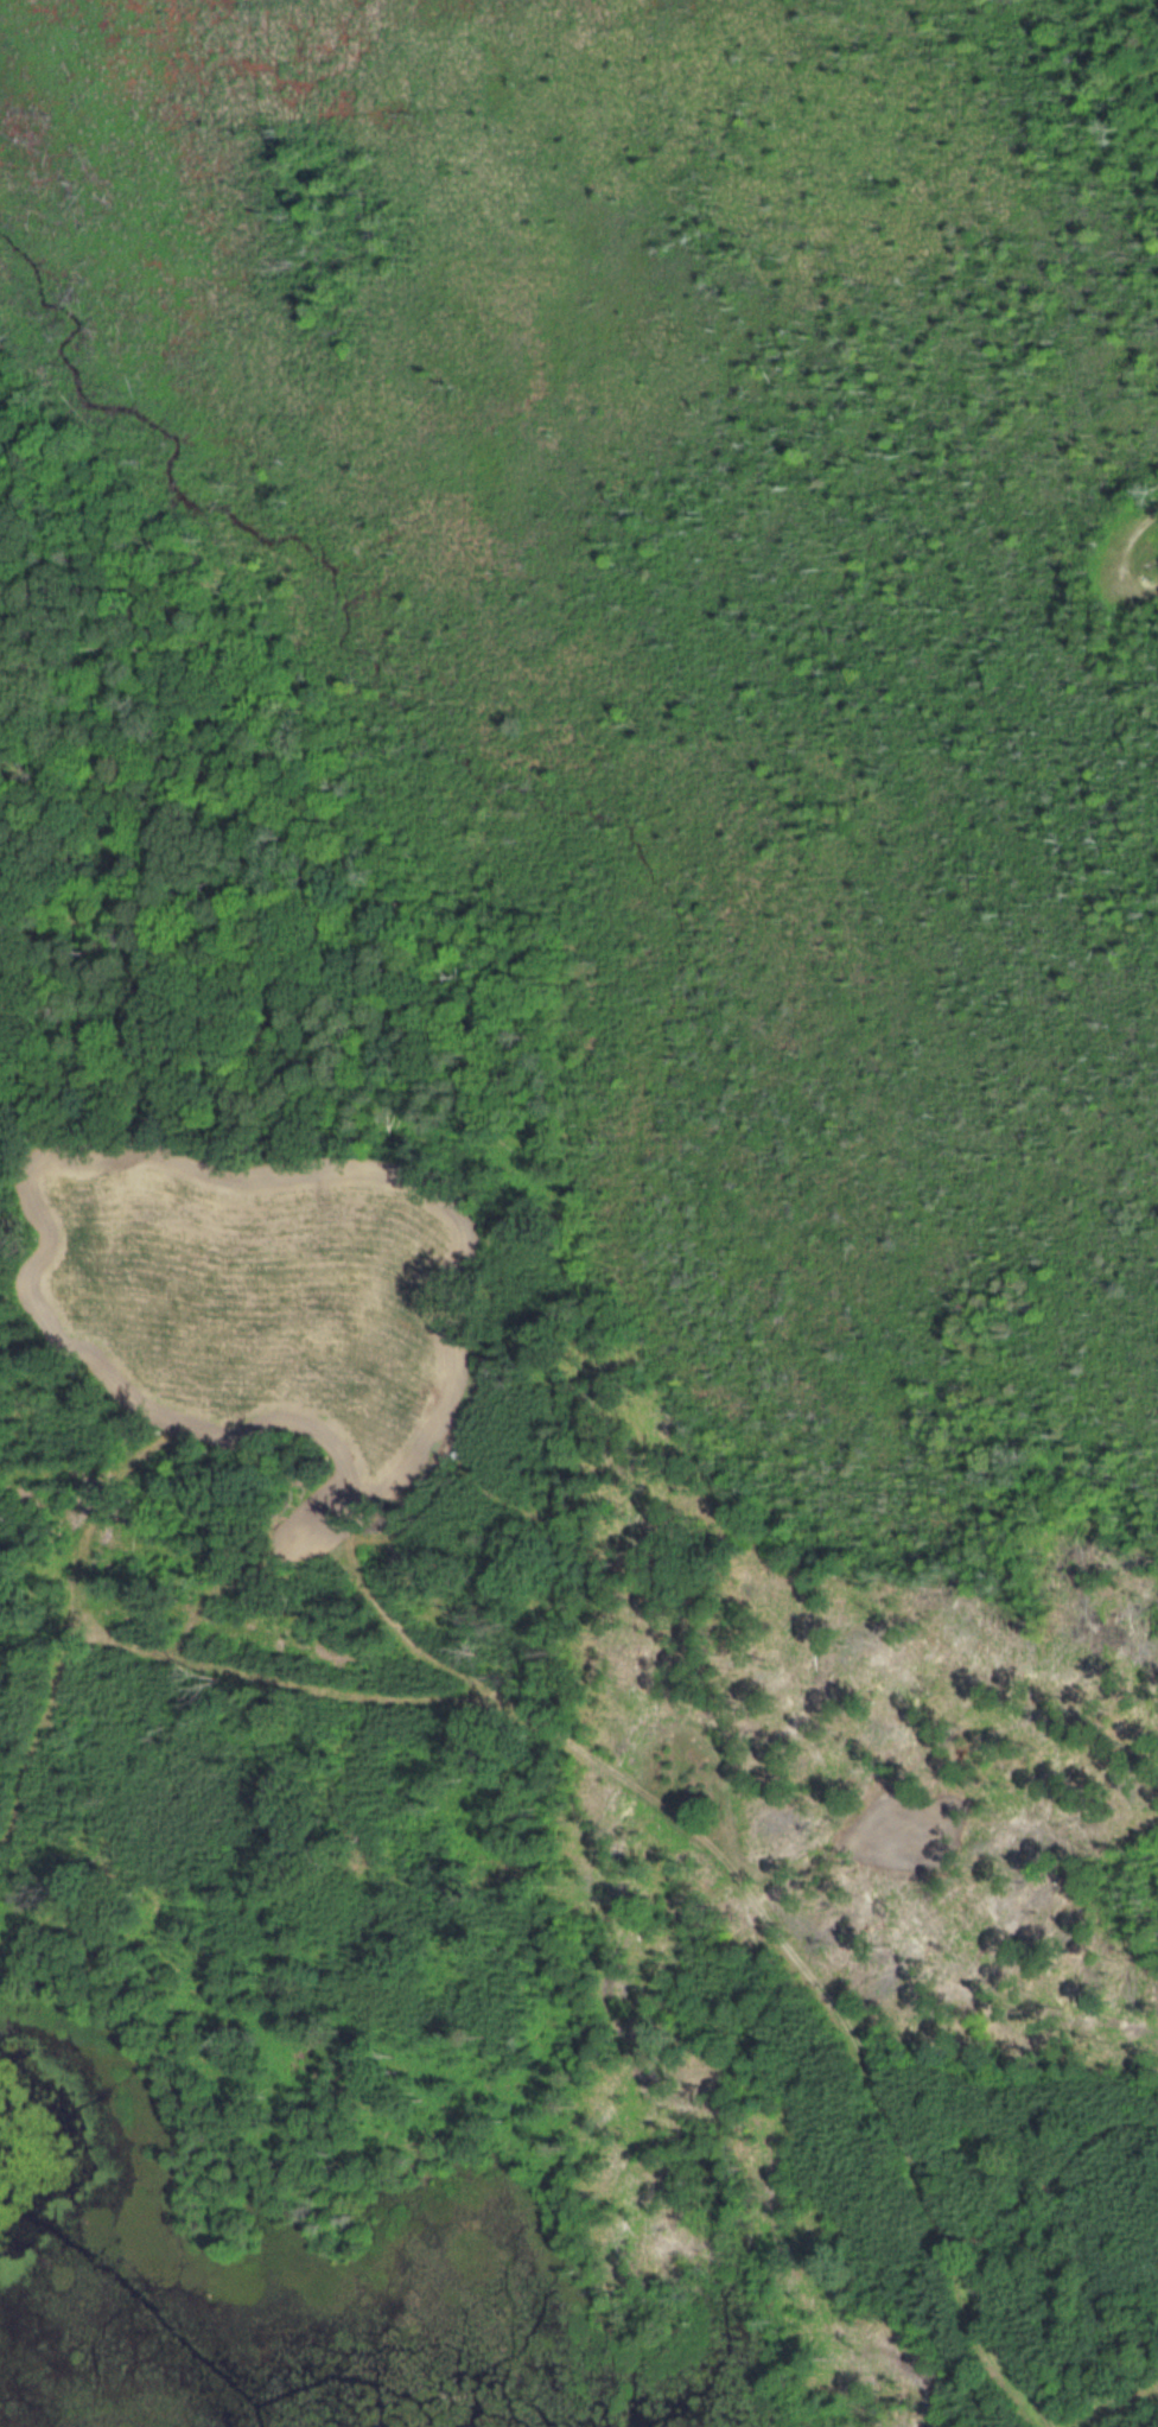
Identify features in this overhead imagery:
road: (1122, 554)
road: (887, 2096)

